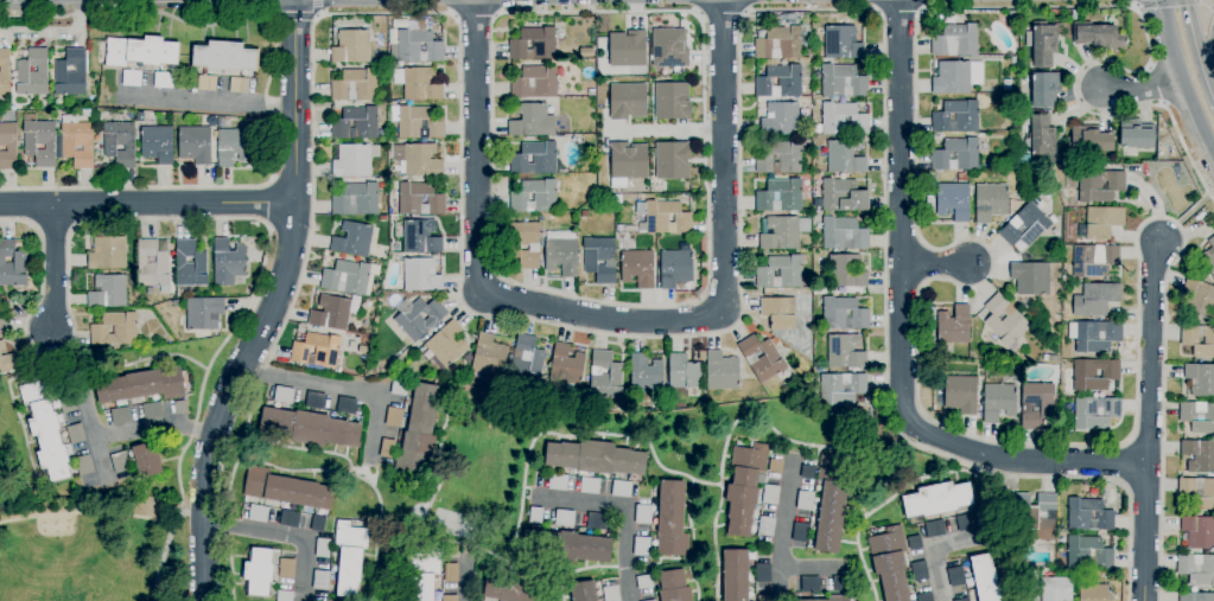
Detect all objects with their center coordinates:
road: (316, 7)
road: (900, 12)
road: (722, 14)
building: (1075, 14)
building: (1012, 15)
road: (292, 17)
road: (56, 33)
building: (759, 34)
building: (1098, 36)
building: (955, 40)
building: (778, 43)
building: (841, 43)
building: (533, 44)
building: (1043, 44)
building: (351, 46)
building: (418, 46)
road: (1197, 46)
building: (669, 47)
building: (627, 50)
building: (808, 50)
building: (140, 52)
building: (586, 52)
building: (223, 56)
building: (383, 59)
road: (1210, 59)
building: (1012, 60)
building: (5, 71)
road: (1183, 72)
building: (32, 73)
building: (70, 73)
building: (956, 77)
building: (132, 78)
building: (163, 79)
building: (843, 81)
building: (534, 82)
building: (780, 82)
building: (206, 83)
building: (418, 83)
building: (1006, 84)
building: (237, 85)
building: (355, 85)
building: (383, 85)
building: (1044, 88)
road: (1140, 88)
road: (266, 97)
road: (208, 101)
building: (628, 102)
building: (673, 104)
building: (87, 114)
building: (955, 116)
building: (139, 117)
building: (781, 120)
building: (843, 120)
building: (532, 121)
building: (417, 122)
building: (355, 123)
road: (662, 130)
building: (1136, 134)
building: (1042, 135)
building: (1088, 139)
building: (119, 140)
building: (39, 142)
building: (75, 142)
building: (157, 143)
building: (195, 145)
building: (8, 146)
building: (233, 146)
building: (956, 154)
building: (844, 156)
building: (780, 158)
building: (418, 159)
building: (534, 159)
building: (354, 160)
building: (672, 160)
building: (628, 161)
building: (983, 173)
building: (961, 177)
building: (1099, 185)
building: (1047, 193)
building: (780, 196)
building: (843, 196)
building: (534, 197)
building: (356, 199)
building: (419, 199)
building: (953, 200)
building: (1036, 200)
building: (990, 202)
road: (265, 203)
road: (1155, 203)
road: (146, 204)
building: (930, 204)
building: (640, 209)
building: (584, 213)
road: (1183, 216)
building: (382, 218)
building: (665, 218)
road: (208, 219)
building: (1100, 223)
building: (1024, 226)
building: (630, 229)
building: (782, 232)
building: (843, 234)
building: (420, 237)
building: (352, 239)
building: (525, 243)
building: (561, 252)
building: (107, 254)
building: (1208, 257)
building: (599, 258)
building: (1093, 260)
building: (227, 262)
road: (936, 263)
building: (12, 264)
building: (152, 264)
building: (190, 264)
road: (53, 267)
building: (637, 268)
building: (675, 268)
building: (780, 271)
building: (845, 271)
building: (420, 275)
building: (345, 277)
building: (1030, 277)
road: (924, 283)
building: (108, 292)
road: (704, 292)
building: (1095, 300)
building: (1197, 300)
road: (272, 306)
building: (203, 313)
building: (331, 313)
building: (778, 313)
building: (843, 313)
building: (418, 317)
road: (612, 319)
building: (1004, 320)
building: (953, 326)
building: (2, 327)
building: (115, 328)
road: (697, 333)
road: (901, 334)
building: (1094, 335)
building: (1189, 340)
building: (446, 344)
building: (2, 346)
building: (363, 349)
building: (316, 351)
building: (844, 351)
building: (406, 353)
building: (489, 357)
building: (761, 358)
building: (1051, 358)
building: (526, 360)
building: (7, 363)
building: (398, 363)
building: (566, 365)
building: (819, 369)
building: (722, 371)
building: (682, 372)
building: (1094, 375)
building: (604, 376)
building: (646, 376)
building: (1200, 379)
building: (141, 385)
road: (336, 388)
building: (526, 388)
building: (399, 389)
building: (840, 389)
building: (960, 394)
building: (284, 395)
building: (314, 401)
building: (997, 402)
building: (68, 403)
building: (1035, 404)
building: (347, 405)
building: (180, 408)
building: (151, 410)
building: (1095, 413)
building: (120, 416)
building: (1197, 416)
building: (393, 417)
road: (1148, 420)
road: (153, 428)
building: (310, 428)
building: (45, 429)
building: (418, 433)
building: (76, 434)
road: (94, 441)
building: (387, 448)
building: (1199, 455)
building: (596, 458)
building: (147, 460)
building: (120, 462)
building: (84, 465)
building: (775, 466)
building: (807, 472)
building: (558, 482)
building: (589, 485)
building: (744, 487)
building: (621, 488)
building: (286, 490)
building: (1186, 493)
building: (770, 494)
building: (936, 499)
building: (805, 500)
building: (831, 505)
building: (258, 513)
building: (642, 514)
building: (1088, 514)
building: (535, 516)
road: (627, 516)
building: (1036, 516)
building: (564, 518)
building: (290, 519)
building: (670, 519)
building: (596, 522)
building: (966, 523)
building: (317, 524)
building: (765, 526)
road: (256, 529)
building: (934, 529)
building: (1199, 531)
building: (800, 532)
road: (782, 533)
building: (914, 543)
building: (566, 546)
building: (641, 546)
building: (322, 548)
park: (94, 549)
road: (934, 550)
building: (1088, 554)
building: (349, 557)
building: (890, 563)
building: (425, 564)
building: (287, 568)
road: (304, 569)
building: (1196, 569)
building: (259, 571)
road: (812, 571)
building: (919, 571)
building: (451, 573)
building: (762, 573)
building: (735, 575)
building: (955, 576)
building: (984, 578)
building: (320, 580)
building: (644, 582)
road: (471, 583)
building: (838, 583)
building: (809, 584)
building: (674, 587)
building: (422, 588)
building: (515, 588)
building: (1056, 589)
building: (583, 592)
building: (611, 593)
building: (1094, 593)
building: (285, 595)
building: (924, 596)
building: (1195, 596)
building: (449, 597)
building: (832, 597)
building: (764, 599)
building: (652, 600)
building: (962, 600)

